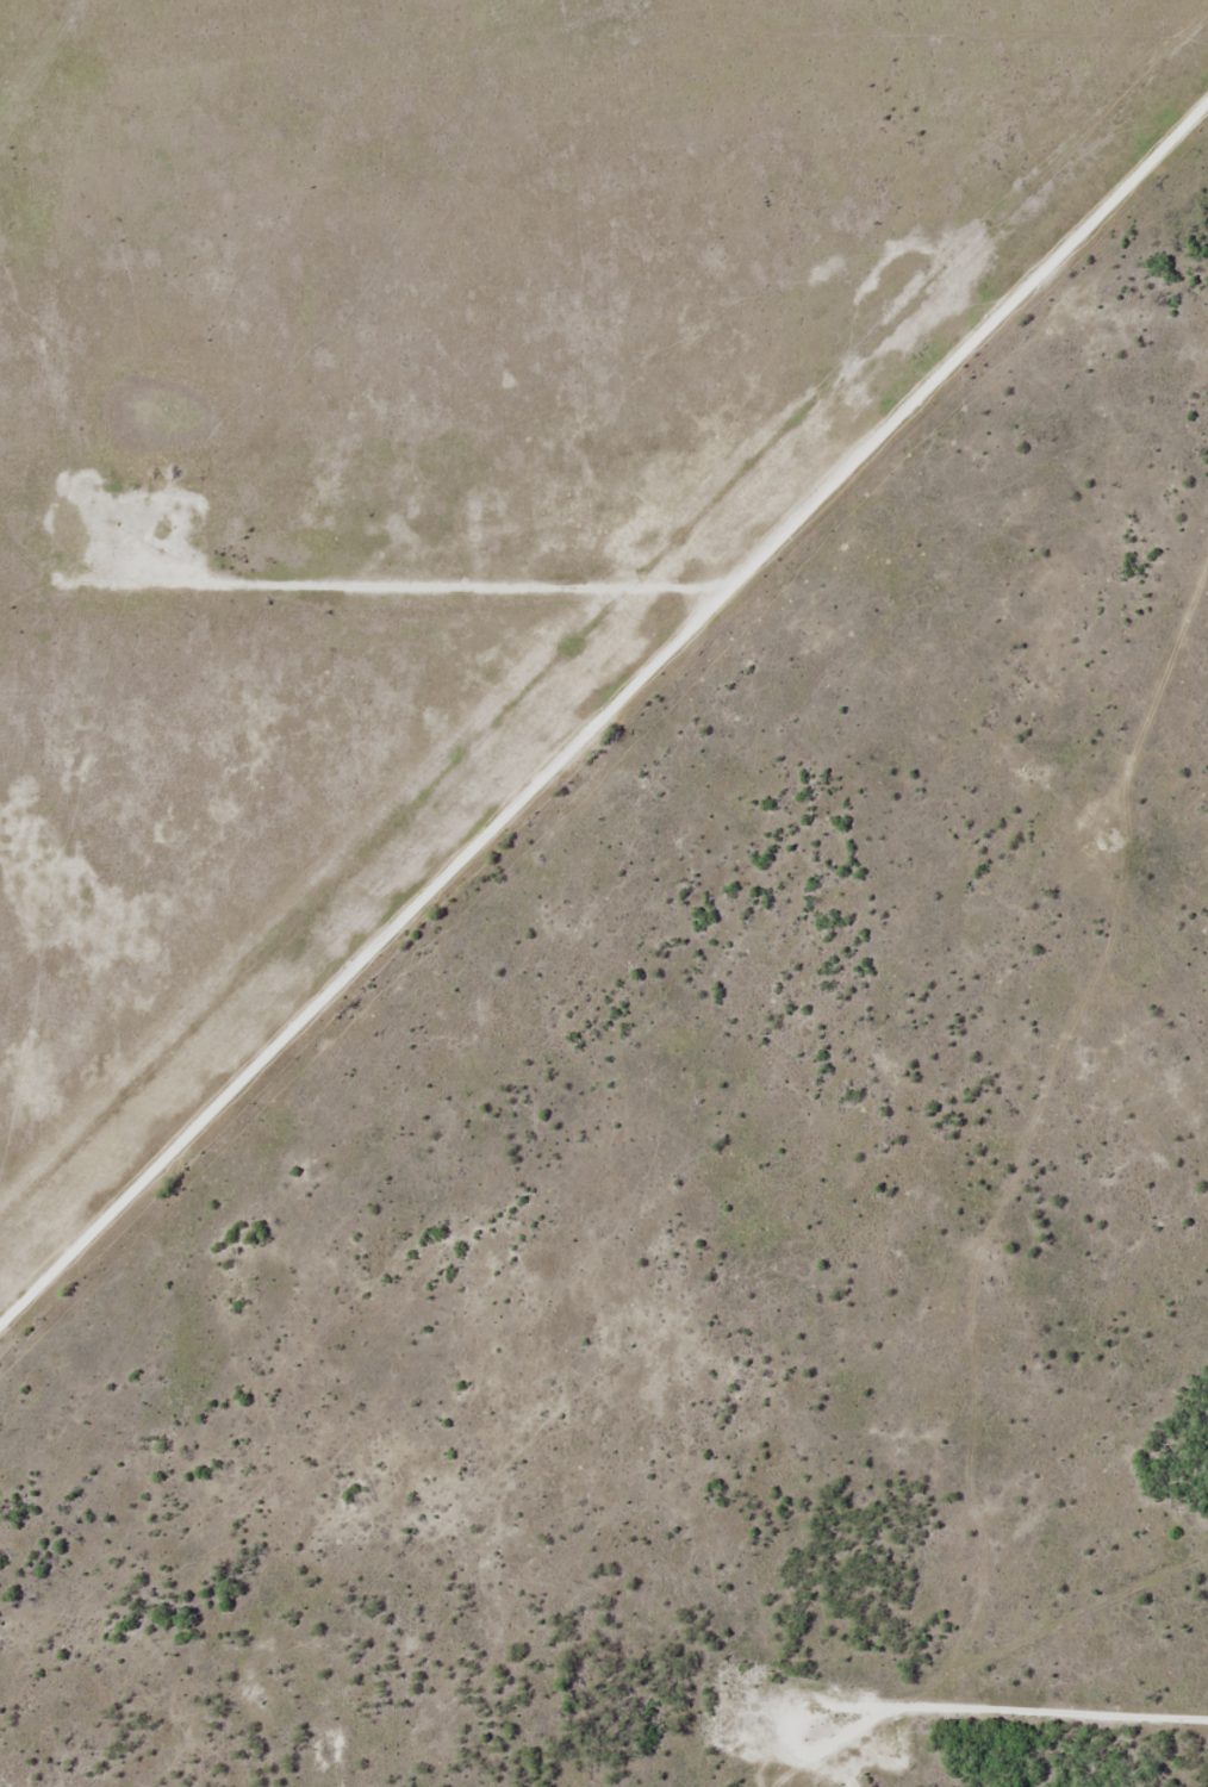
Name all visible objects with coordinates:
road: (842, 490)
road: (238, 1103)
road: (1002, 1716)

